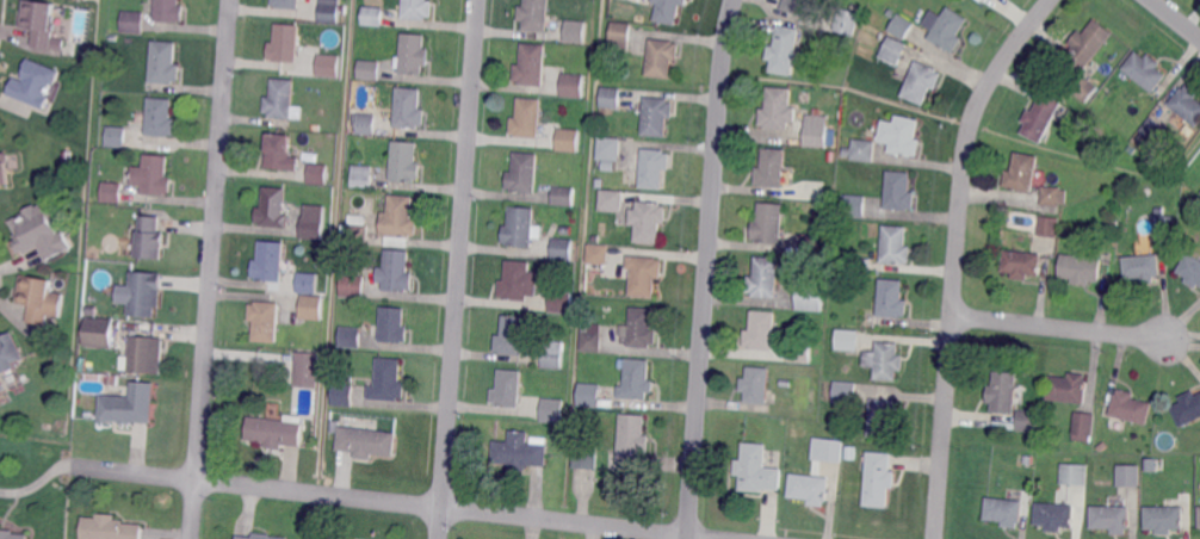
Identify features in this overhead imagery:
building: (982, 0)
building: (286, 4)
building: (796, 6)
building: (417, 8)
building: (669, 10)
building: (169, 11)
building: (329, 11)
building: (534, 14)
building: (375, 16)
road: (1175, 19)
building: (132, 20)
building: (835, 23)
building: (42, 24)
building: (901, 24)
building: (945, 29)
building: (576, 31)
building: (619, 36)
building: (285, 43)
building: (1089, 44)
building: (784, 49)
building: (893, 50)
building: (413, 54)
building: (661, 57)
building: (165, 62)
building: (328, 64)
building: (532, 64)
building: (370, 69)
building: (1146, 70)
building: (922, 81)
building: (1112, 83)
building: (33, 85)
building: (573, 85)
building: (1083, 89)
building: (611, 97)
building: (283, 100)
building: (1188, 104)
building: (410, 109)
building: (778, 109)
building: (657, 116)
building: (161, 117)
building: (1041, 117)
building: (527, 118)
building: (367, 123)
building: (1155, 128)
building: (815, 131)
building: (117, 136)
building: (901, 136)
building: (569, 140)
building: (610, 148)
building: (864, 149)
building: (279, 153)
building: (843, 153)
building: (406, 161)
building: (654, 167)
building: (772, 168)
building: (4, 169)
building: (317, 172)
building: (1022, 172)
building: (524, 173)
building: (154, 175)
building: (363, 175)
building: (598, 182)
building: (899, 191)
building: (111, 193)
building: (563, 194)
building: (1053, 194)
building: (612, 200)
building: (854, 205)
building: (273, 207)
building: (400, 217)
building: (648, 221)
building: (313, 223)
building: (769, 223)
building: (1050, 225)
building: (1165, 225)
building: (520, 227)
building: (39, 233)
building: (358, 233)
building: (151, 237)
building: (395, 238)
building: (811, 243)
building: (896, 244)
building: (563, 248)
building: (598, 254)
road: (955, 256)
building: (270, 261)
building: (1022, 264)
building: (861, 265)
building: (1143, 266)
road: (210, 268)
road: (707, 268)
building: (1082, 268)
road: (459, 269)
building: (1190, 269)
building: (396, 272)
building: (645, 274)
building: (765, 277)
building: (308, 281)
building: (519, 281)
building: (353, 285)
building: (146, 295)
building: (811, 296)
building: (35, 298)
building: (892, 298)
building: (561, 301)
building: (311, 306)
building: (91, 311)
building: (265, 321)
building: (394, 324)
road: (1059, 327)
building: (641, 329)
building: (761, 330)
building: (99, 333)
building: (512, 335)
building: (592, 335)
building: (351, 336)
building: (848, 339)
building: (800, 352)
building: (10, 353)
building: (553, 353)
building: (146, 355)
building: (889, 360)
building: (307, 370)
building: (347, 376)
building: (388, 379)
building: (637, 379)
building: (756, 384)
building: (785, 384)
building: (1069, 388)
building: (508, 389)
building: (1, 390)
building: (846, 391)
building: (1004, 391)
building: (342, 395)
building: (588, 395)
building: (129, 407)
building: (1131, 407)
building: (552, 409)
building: (1188, 409)
building: (592, 413)
building: (884, 416)
building: (1027, 421)
building: (333, 427)
building: (1083, 427)
building: (558, 430)
building: (274, 433)
building: (1033, 438)
building: (367, 441)
building: (632, 442)
building: (828, 448)
building: (520, 451)
building: (582, 457)
building: (1029, 459)
building: (860, 461)
building: (755, 470)
building: (1075, 473)
building: (1130, 475)
building: (879, 478)
building: (810, 488)
road: (396, 502)
building: (1004, 510)
building: (1056, 515)
building: (1199, 516)
building: (1112, 518)
building: (1165, 518)
building: (111, 527)
building: (11, 534)
building: (260, 537)

